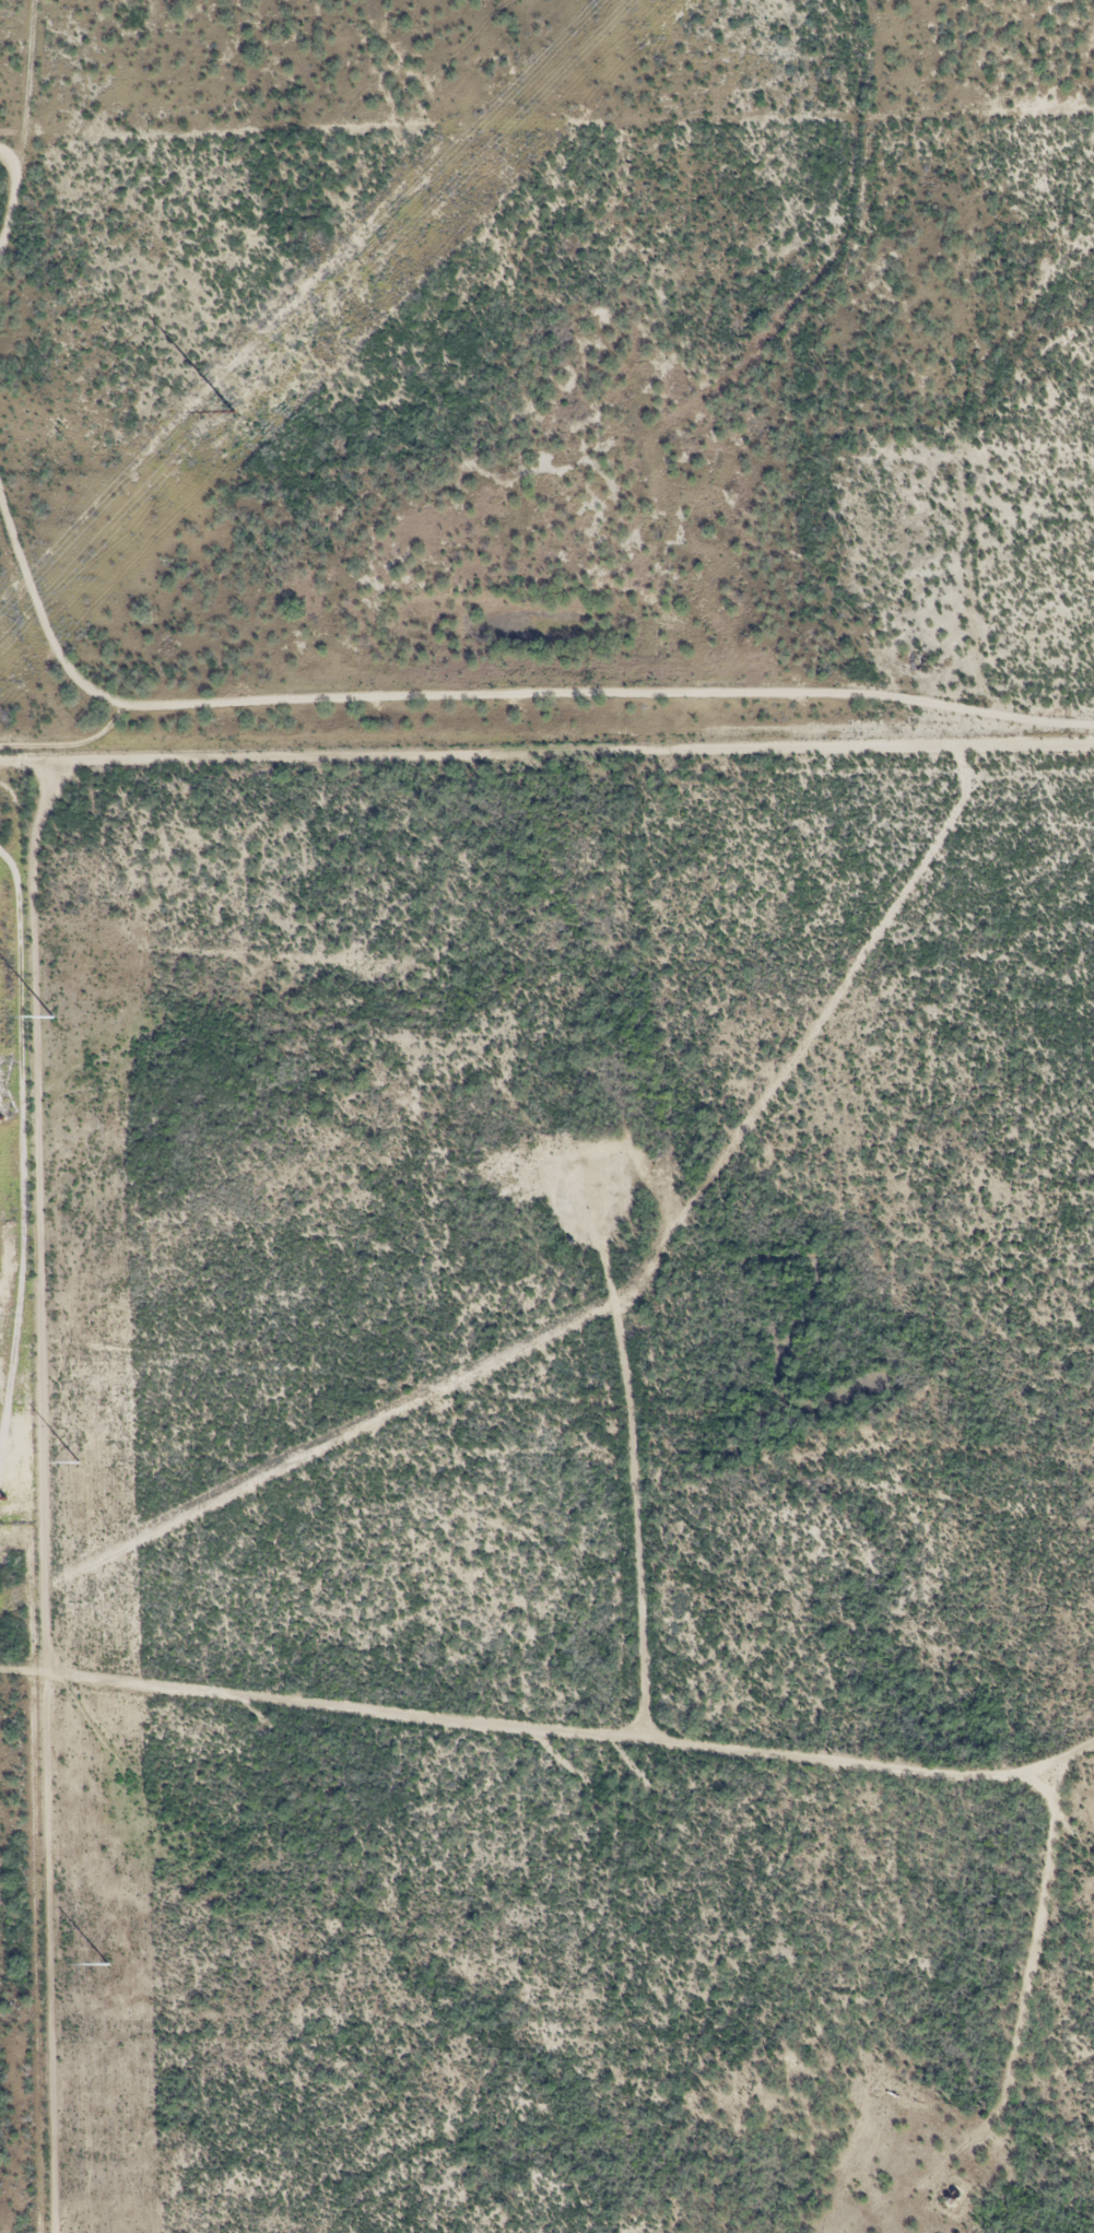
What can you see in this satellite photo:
road: (16, 137)
power tower: (230, 410)
road: (506, 701)
power tower: (50, 1016)
power tower: (1, 1116)
power tower: (79, 1460)
power tower: (4, 1497)
road: (546, 1738)
power tower: (109, 1965)

